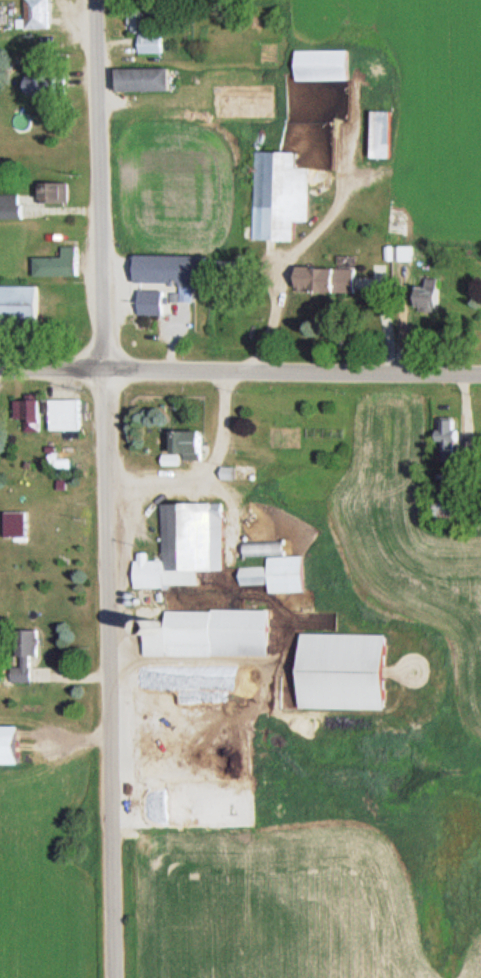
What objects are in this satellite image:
building: (45, 13)
building: (151, 32)
building: (328, 64)
building: (148, 79)
building: (51, 84)
building: (385, 133)
building: (57, 192)
building: (282, 194)
building: (14, 205)
building: (398, 253)
building: (63, 263)
building: (233, 266)
building: (176, 271)
building: (333, 277)
parking lot: (125, 284)
road: (114, 289)
building: (434, 294)
building: (154, 302)
building: (21, 304)
road: (173, 344)
road: (240, 373)
building: (71, 414)
building: (195, 442)
building: (449, 444)
building: (233, 472)
road: (107, 489)
building: (461, 509)
building: (189, 545)
building: (269, 547)
building: (282, 573)
building: (214, 633)
building: (30, 654)
building: (352, 671)
building: (17, 746)

